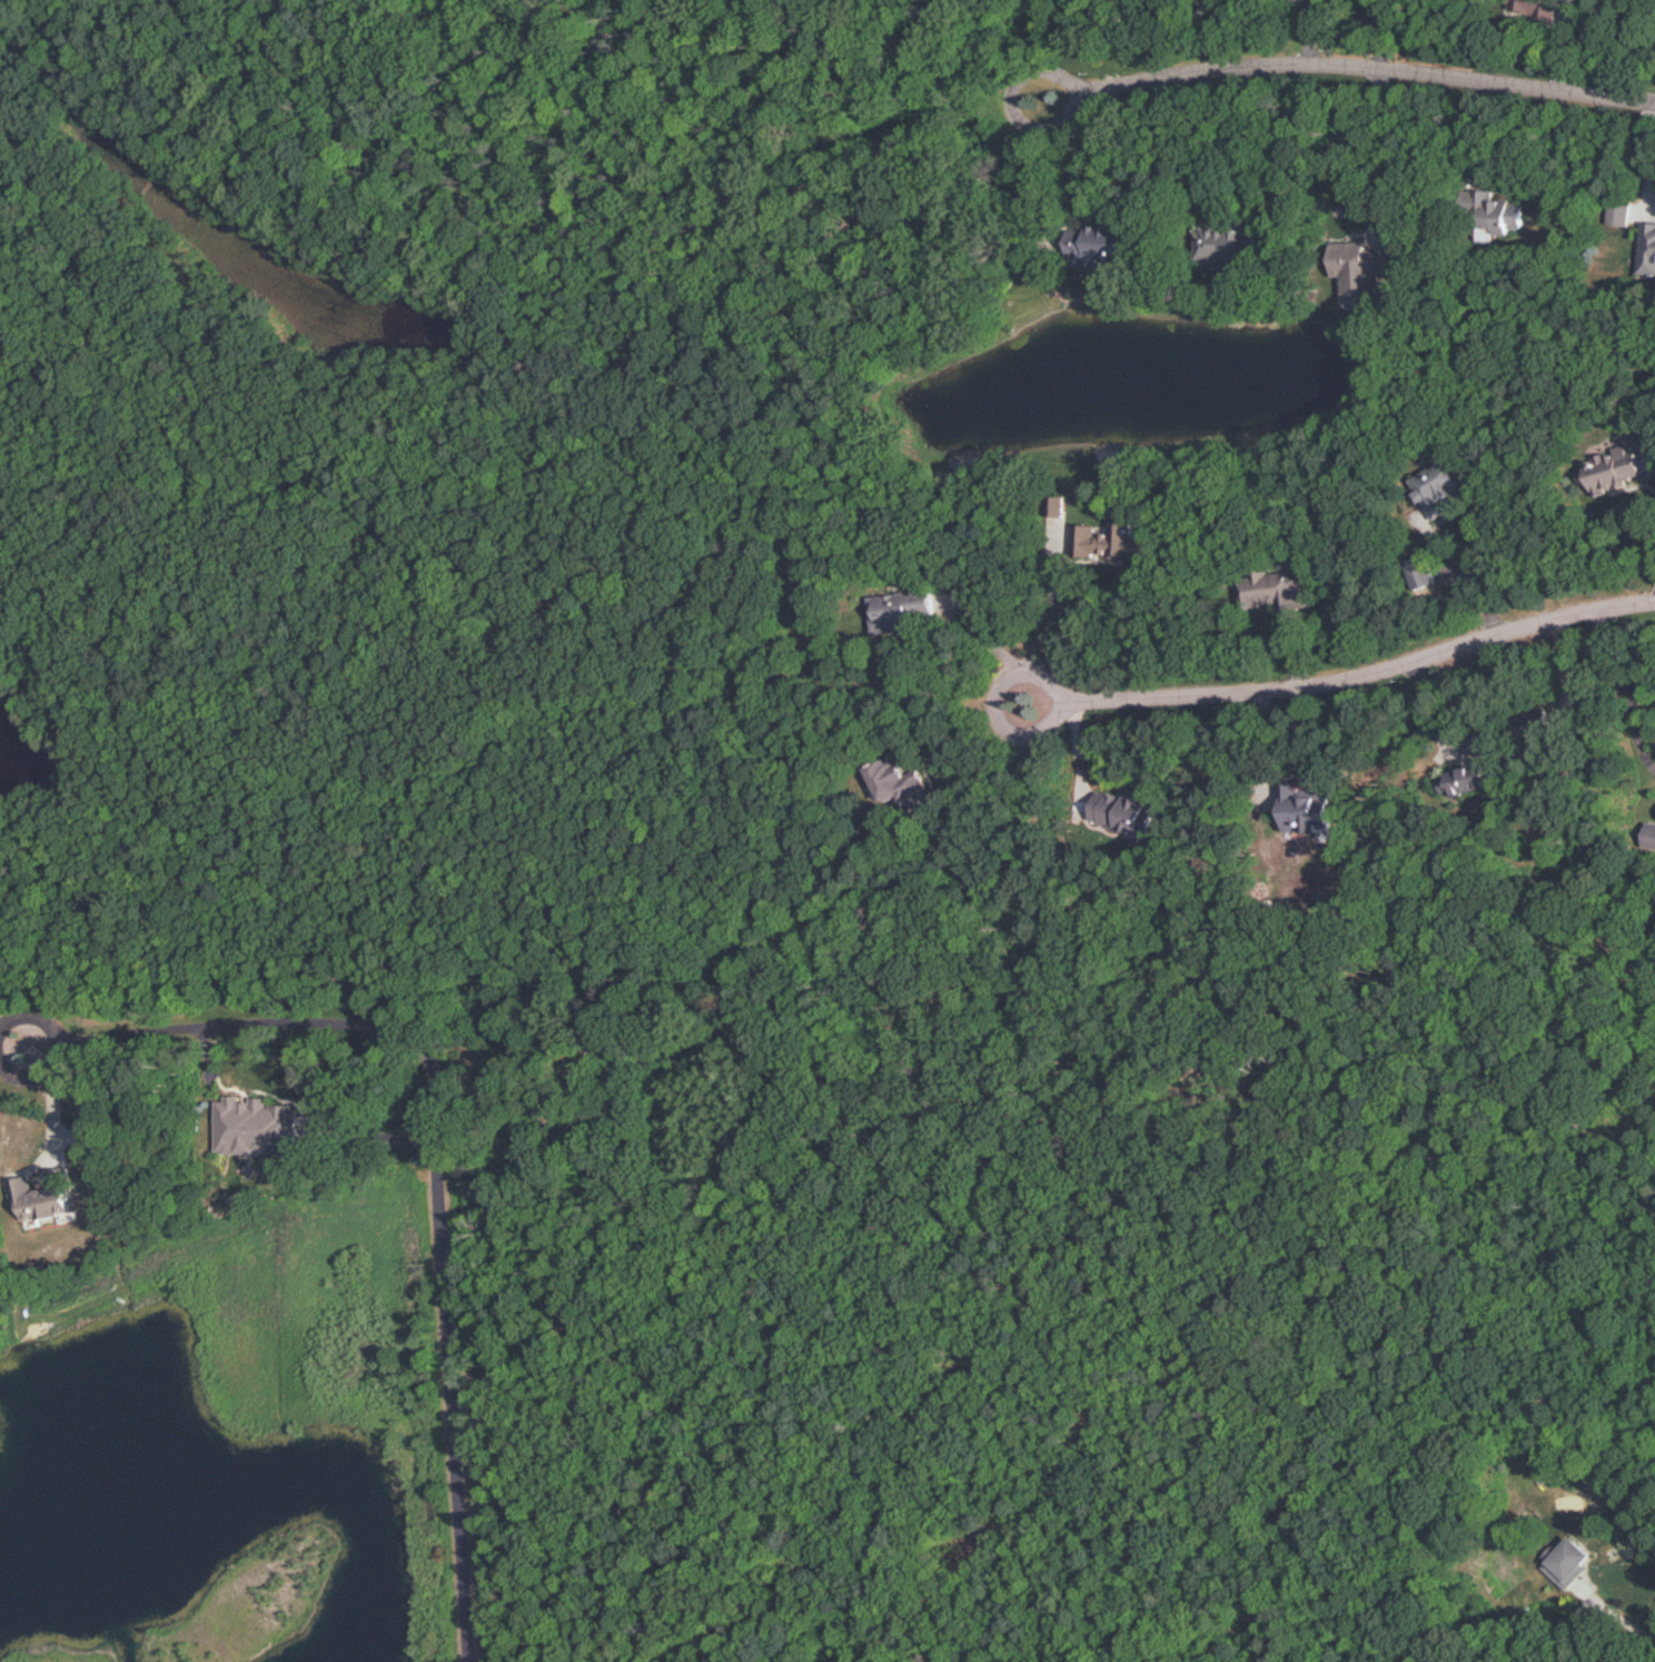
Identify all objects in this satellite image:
building: (1539, 9)
road: (1336, 61)
road: (1250, 145)
road: (1043, 169)
building: (1504, 216)
building: (1100, 241)
building: (1221, 244)
building: (1648, 248)
building: (1351, 268)
building: (1617, 466)
building: (1445, 482)
building: (1059, 533)
building: (1112, 540)
building: (1421, 573)
building: (1274, 586)
building: (904, 609)
road: (1056, 612)
road: (1604, 653)
road: (1367, 673)
road: (1643, 694)
road: (993, 701)
road: (1633, 733)
building: (1473, 778)
building: (899, 780)
building: (1306, 808)
building: (1124, 810)
road: (1, 1049)
road: (0, 1059)
building: (244, 1134)
road: (433, 1177)
building: (46, 1200)
road: (1614, 1614)

